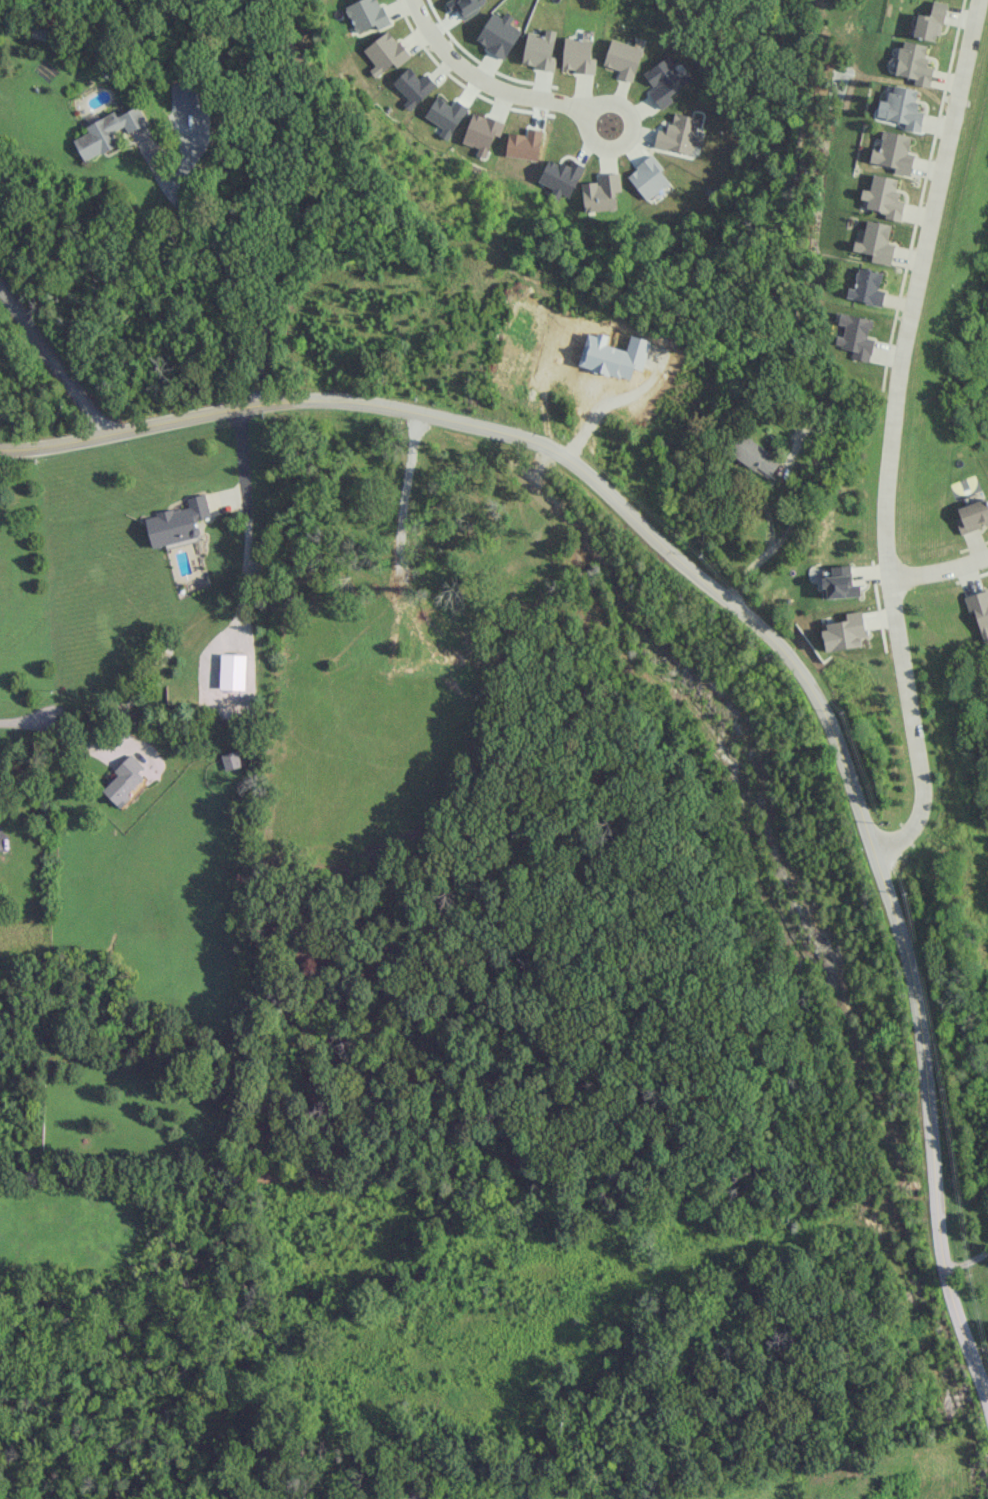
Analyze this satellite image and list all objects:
building: (367, 14)
building: (930, 23)
building: (500, 34)
building: (541, 50)
building: (385, 53)
building: (579, 55)
building: (624, 59)
building: (914, 63)
building: (665, 80)
building: (413, 87)
building: (185, 97)
building: (902, 108)
road: (481, 112)
building: (107, 132)
building: (482, 133)
building: (680, 134)
building: (894, 153)
building: (561, 176)
building: (649, 178)
building: (601, 193)
building: (883, 196)
building: (876, 242)
road: (237, 268)
building: (867, 288)
building: (855, 336)
road: (54, 360)
road: (610, 409)
road: (891, 434)
building: (754, 455)
building: (972, 516)
building: (177, 521)
road: (248, 525)
road: (764, 550)
road: (938, 569)
building: (839, 583)
building: (979, 608)
road: (753, 623)
building: (845, 632)
building: (233, 671)
road: (21, 722)
road: (460, 725)
building: (231, 760)
building: (124, 780)
road: (0, 841)
road: (965, 1262)

